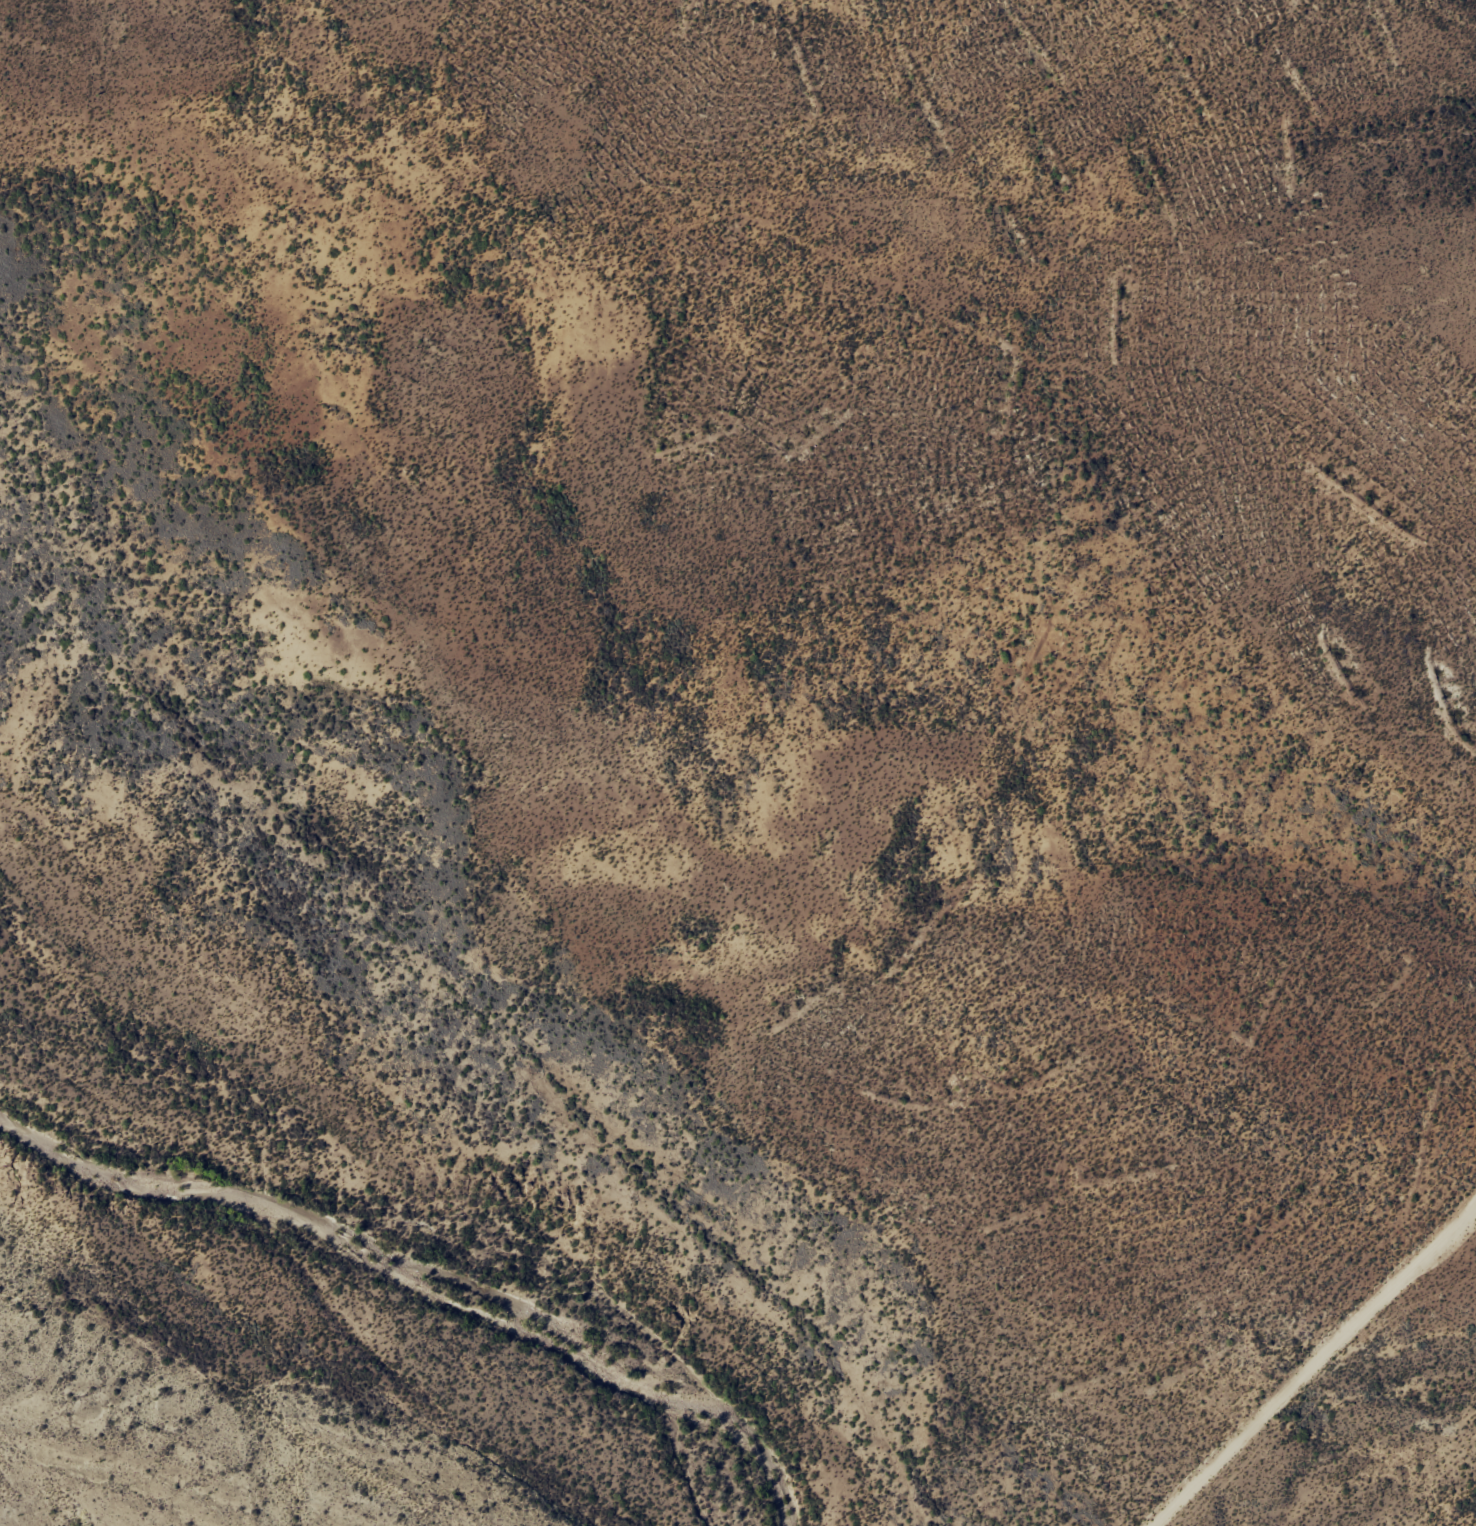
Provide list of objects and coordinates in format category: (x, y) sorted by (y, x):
road: (1351, 1389)

